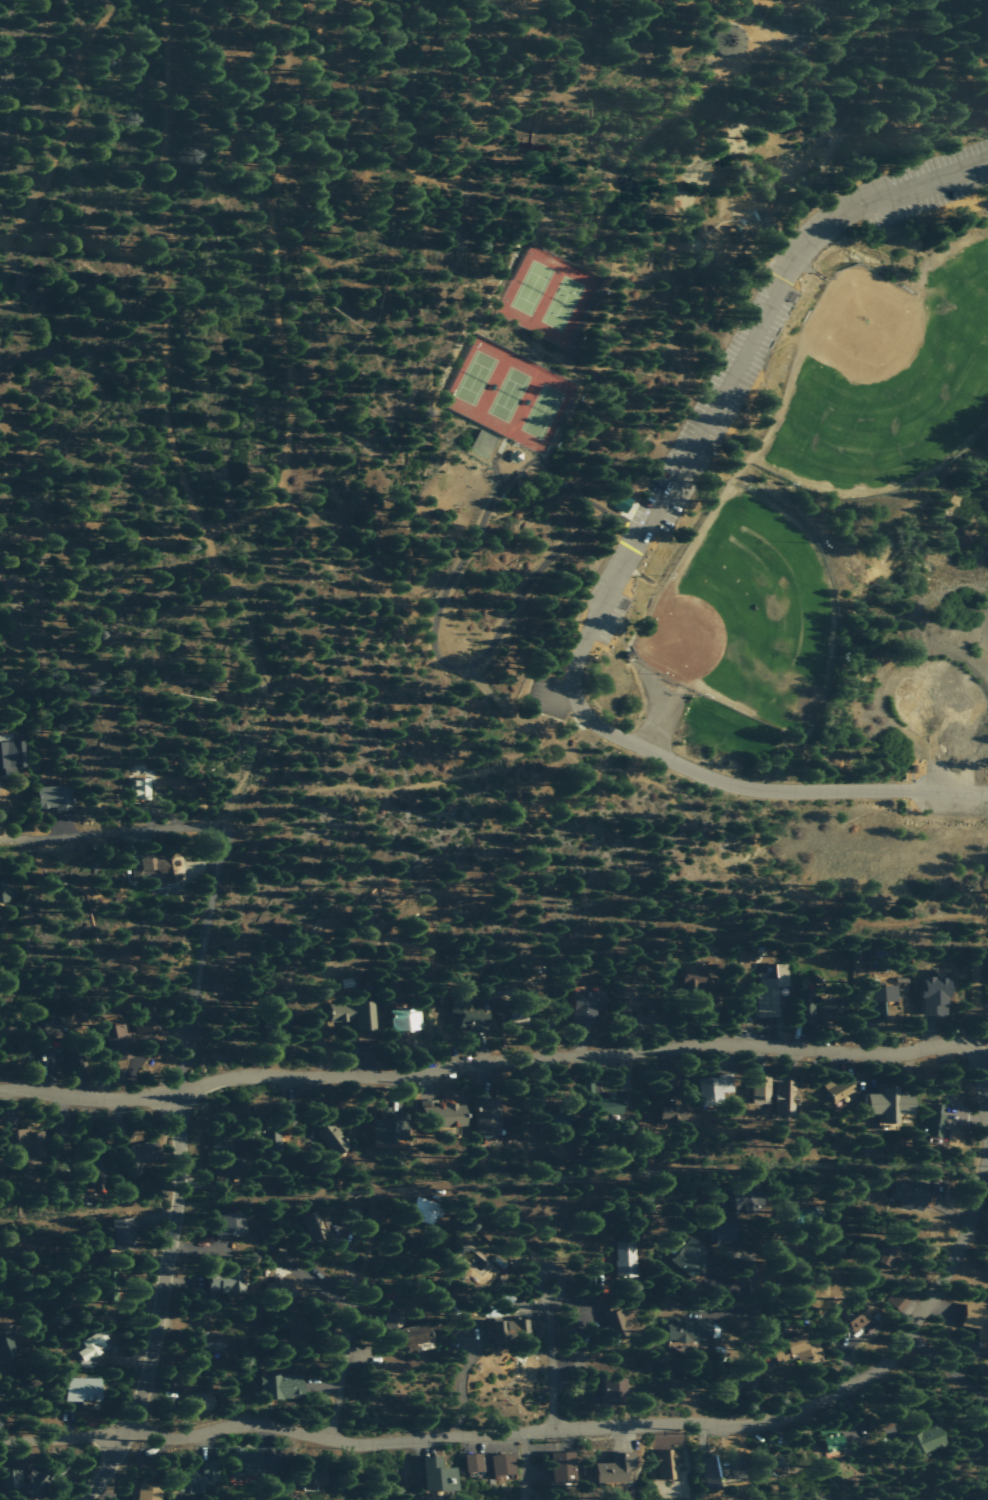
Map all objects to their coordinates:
road: (775, 0)
building: (728, 39)
road: (62, 115)
parking lot: (925, 181)
road: (155, 269)
road: (769, 294)
park: (545, 295)
road: (600, 300)
park: (885, 377)
park: (505, 395)
parking lot: (711, 406)
park: (628, 408)
road: (293, 421)
building: (633, 483)
building: (623, 503)
road: (147, 524)
park: (748, 613)
road: (256, 680)
parking lot: (549, 697)
road: (552, 707)
road: (675, 763)
building: (913, 767)
road: (385, 783)
parking lot: (944, 790)
building: (140, 791)
building: (53, 797)
road: (111, 835)
road: (792, 891)
building: (5, 892)
road: (978, 913)
building: (700, 984)
building: (770, 993)
building: (883, 994)
building: (935, 994)
building: (625, 999)
building: (585, 1008)
building: (813, 1010)
building: (878, 1011)
building: (466, 1014)
building: (507, 1014)
building: (353, 1015)
building: (283, 1018)
building: (143, 1020)
building: (404, 1020)
building: (52, 1032)
building: (116, 1043)
building: (73, 1057)
road: (485, 1061)
building: (589, 1089)
building: (761, 1089)
building: (840, 1089)
building: (712, 1090)
building: (785, 1099)
building: (889, 1105)
building: (610, 1107)
building: (442, 1113)
building: (672, 1113)
building: (487, 1117)
building: (553, 1120)
building: (934, 1121)
building: (388, 1126)
building: (270, 1133)
building: (332, 1139)
building: (24, 1143)
building: (214, 1147)
building: (131, 1162)
building: (233, 1166)
building: (95, 1169)
road: (179, 1174)
building: (909, 1197)
building: (425, 1209)
building: (734, 1215)
building: (803, 1217)
building: (228, 1222)
building: (312, 1226)
building: (123, 1232)
building: (888, 1253)
building: (689, 1256)
building: (279, 1257)
building: (625, 1258)
building: (224, 1280)
building: (114, 1282)
building: (279, 1288)
building: (508, 1295)
building: (898, 1299)
building: (850, 1316)
building: (976, 1320)
building: (615, 1323)
building: (511, 1328)
building: (688, 1329)
building: (409, 1331)
road: (746, 1335)
building: (211, 1341)
road: (347, 1344)
building: (5, 1346)
building: (93, 1347)
building: (796, 1351)
road: (555, 1373)
building: (279, 1384)
building: (81, 1388)
building: (614, 1390)
building: (198, 1400)
road: (620, 1428)
building: (924, 1439)
building: (832, 1440)
building: (771, 1460)
building: (475, 1461)
building: (244, 1462)
building: (501, 1463)
building: (665, 1464)
building: (561, 1466)
building: (616, 1467)
building: (719, 1470)
building: (434, 1474)
building: (13, 1475)
building: (195, 1476)
building: (309, 1478)
building: (140, 1490)

